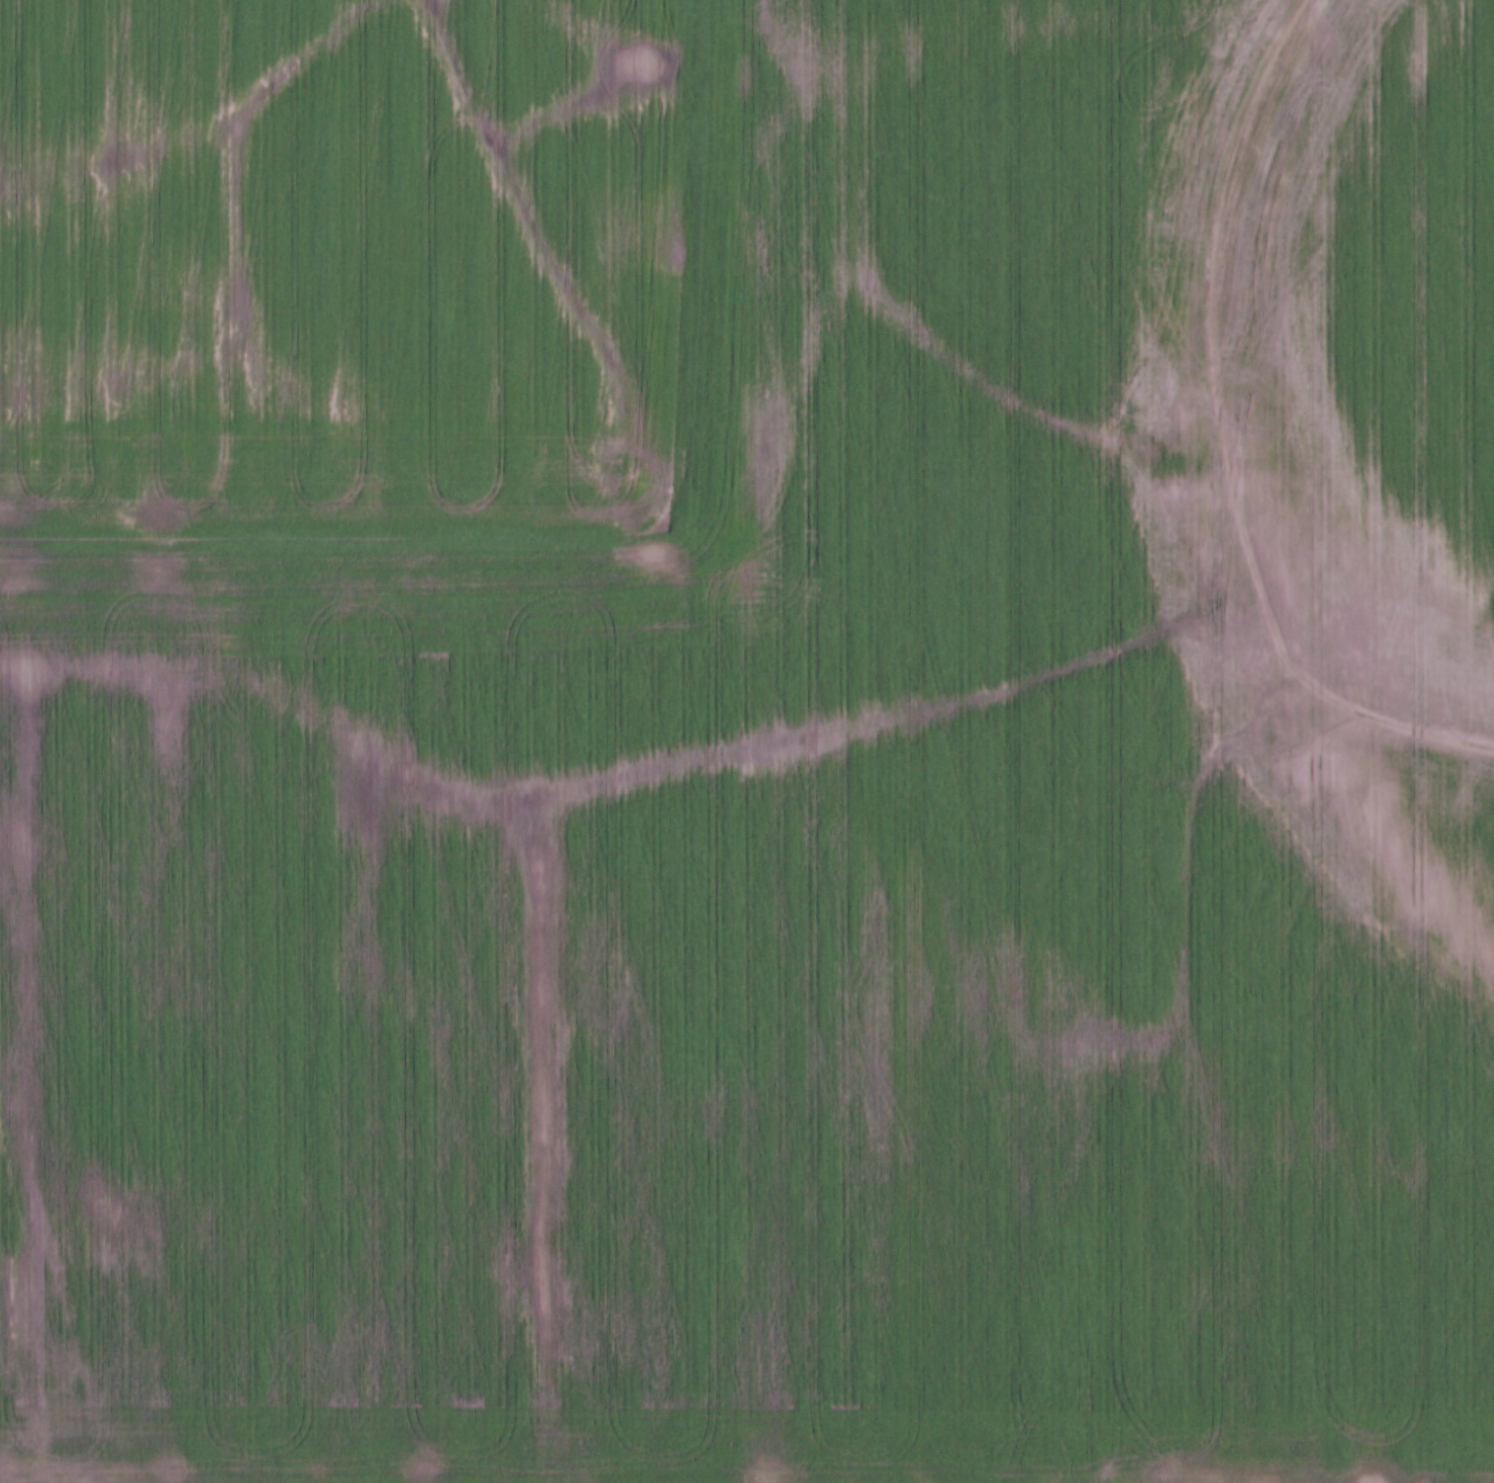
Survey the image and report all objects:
road: (616, 534)

